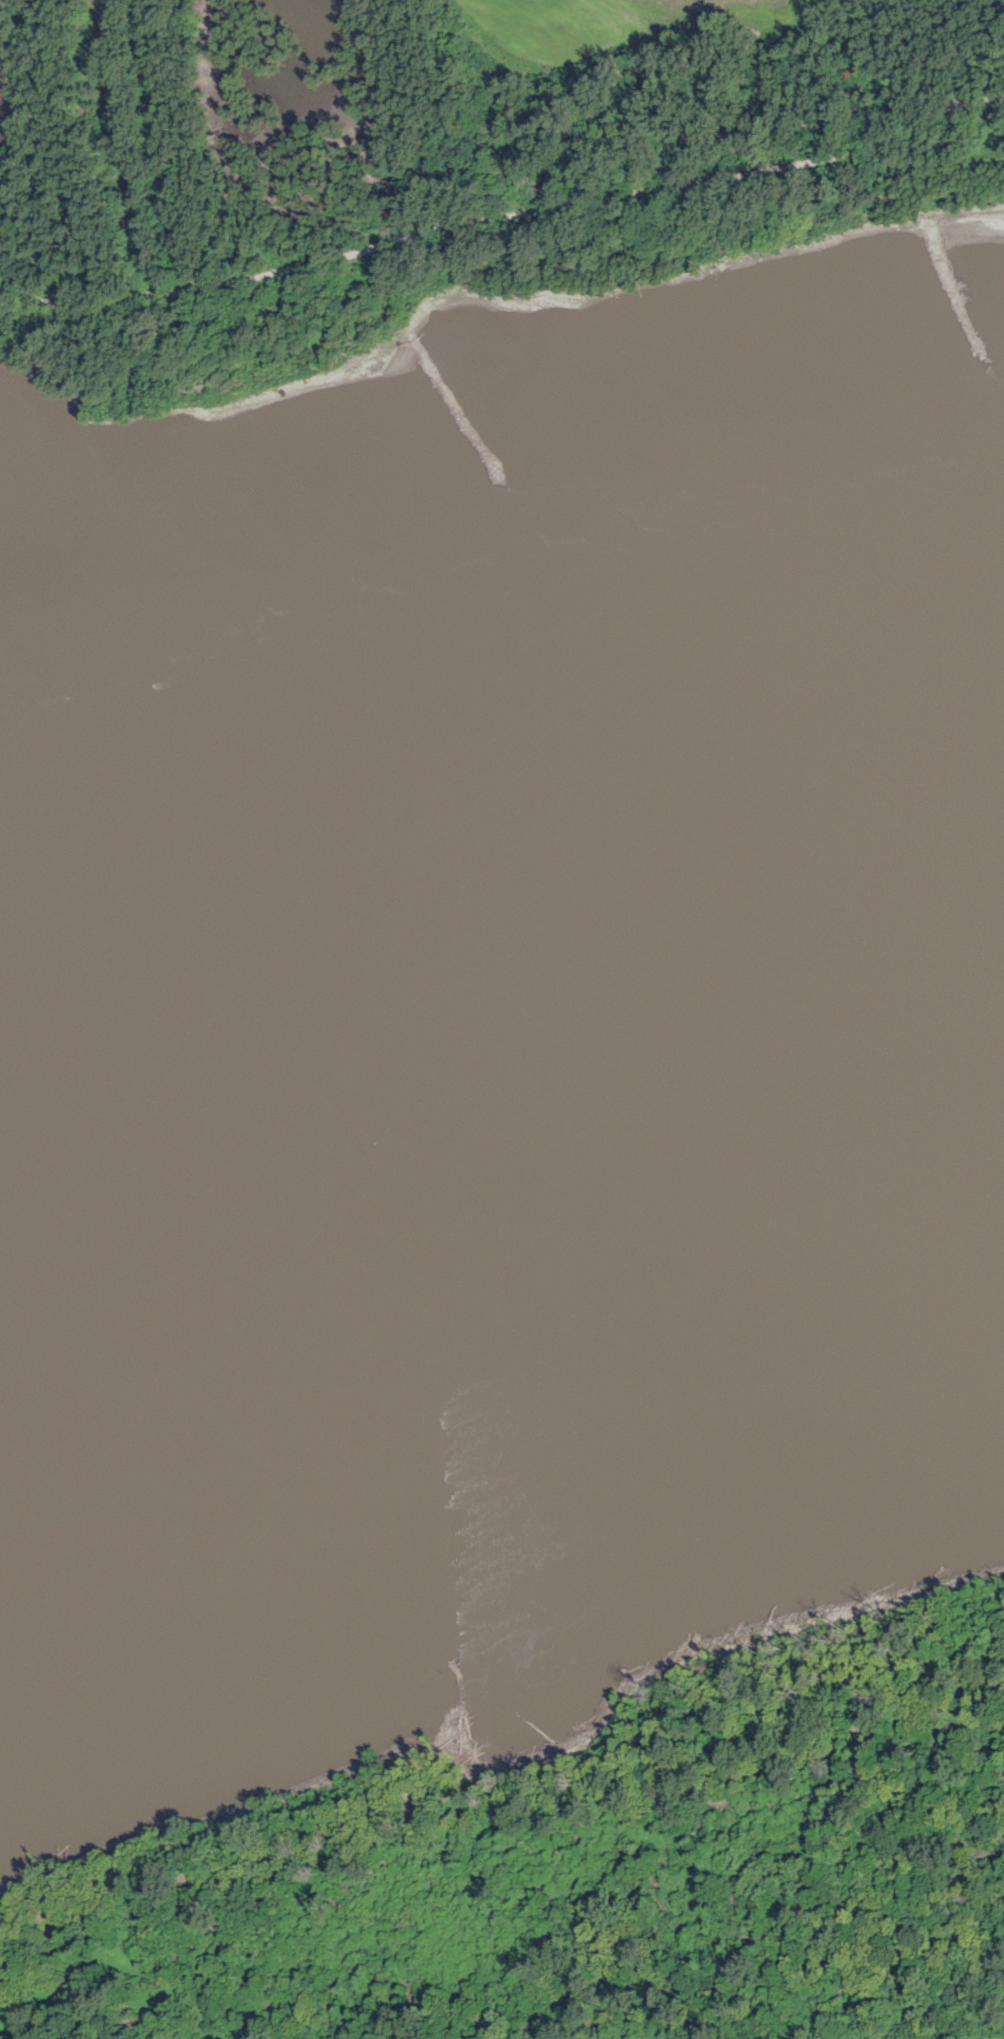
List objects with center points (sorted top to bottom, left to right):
road: (118, 149)
road: (503, 216)
river: (485, 842)

